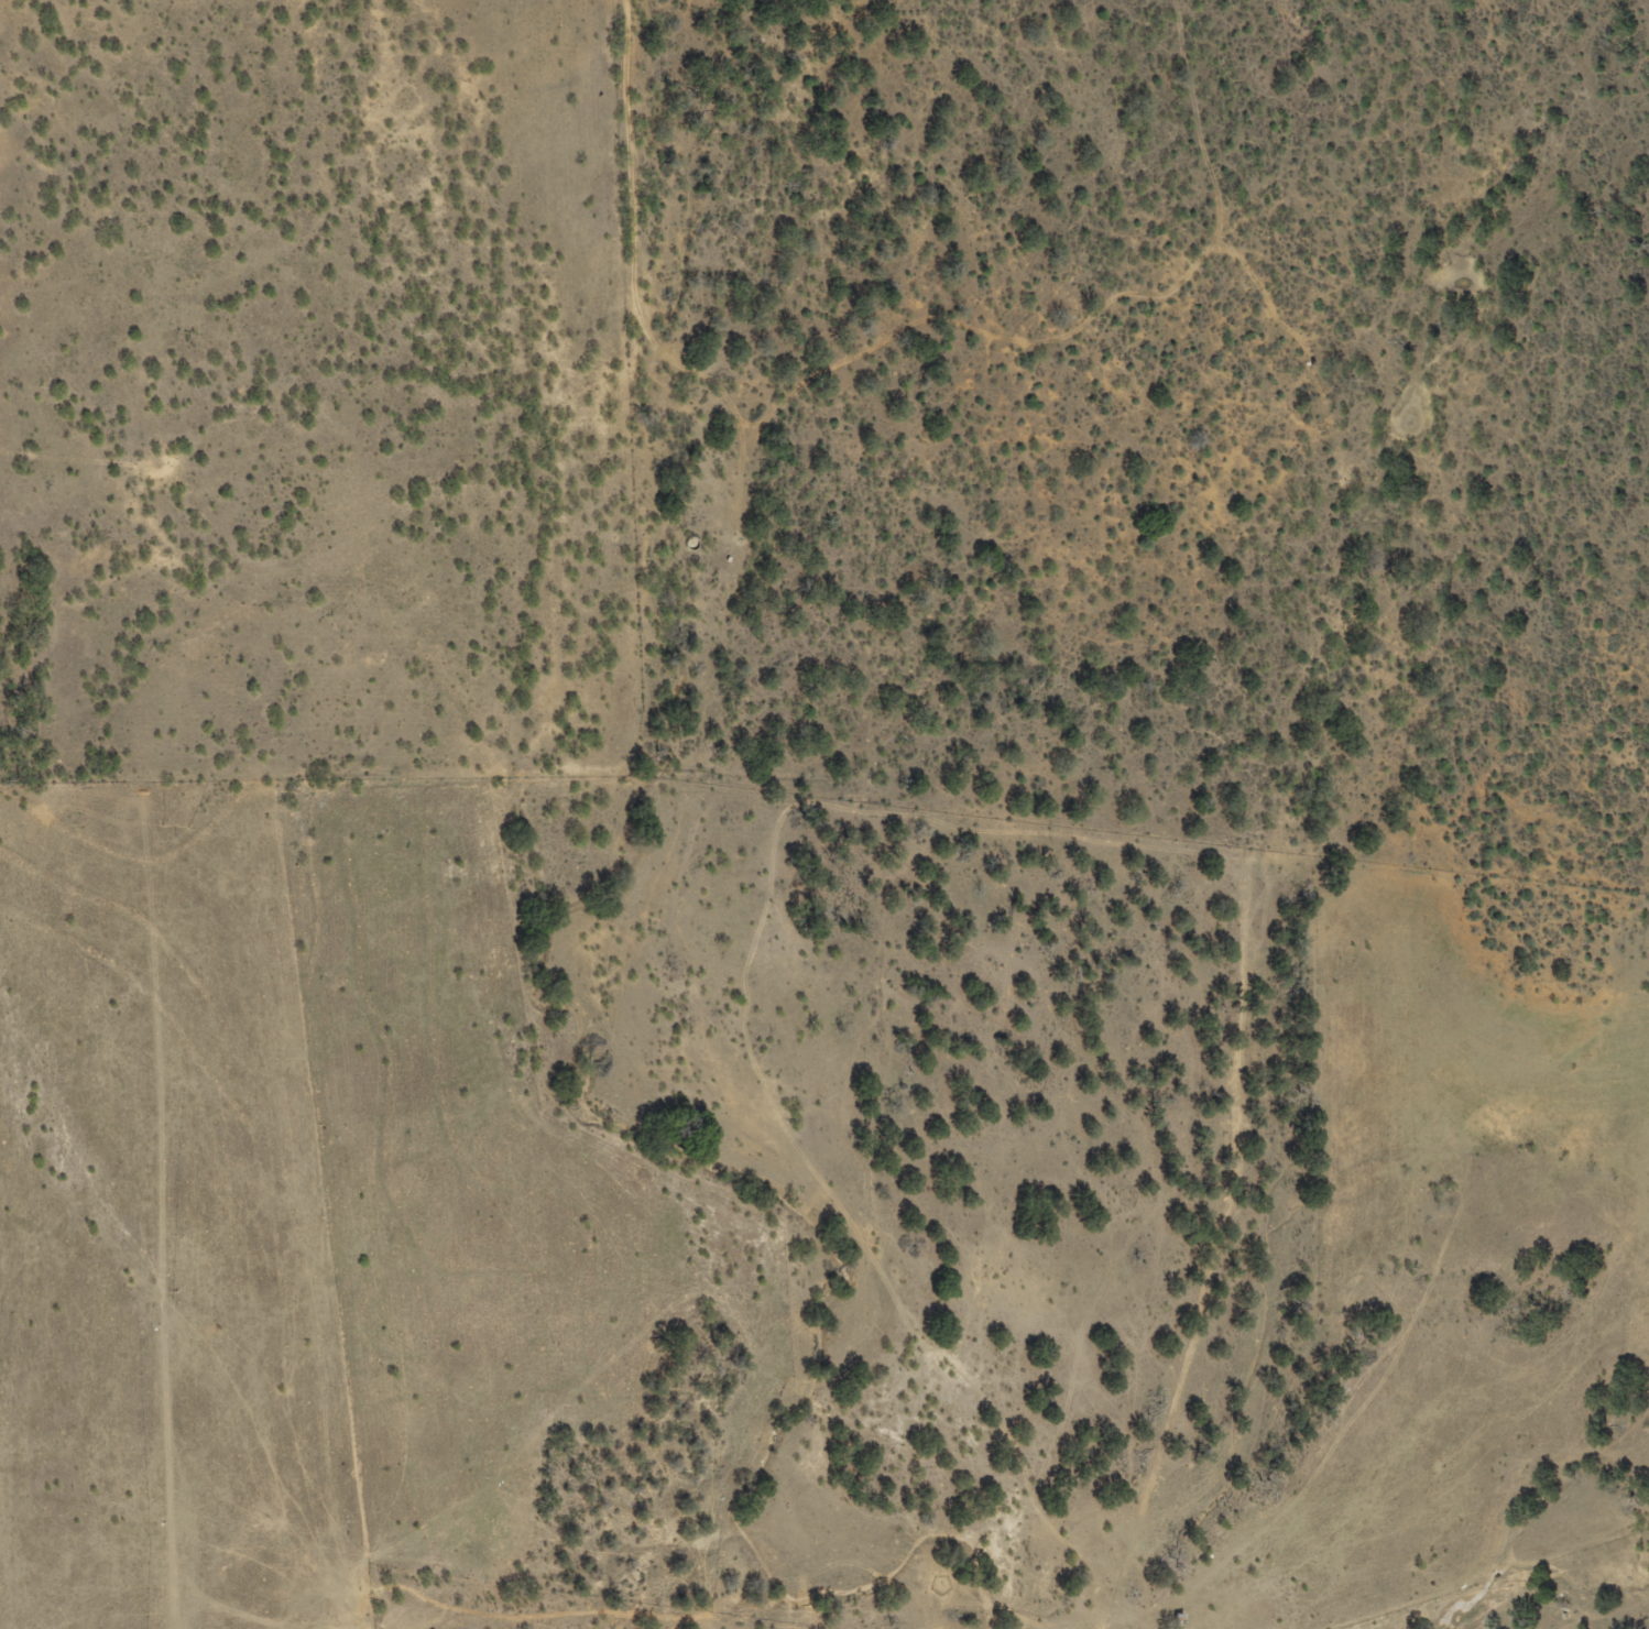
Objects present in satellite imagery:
road: (865, 417)
building: (694, 545)

